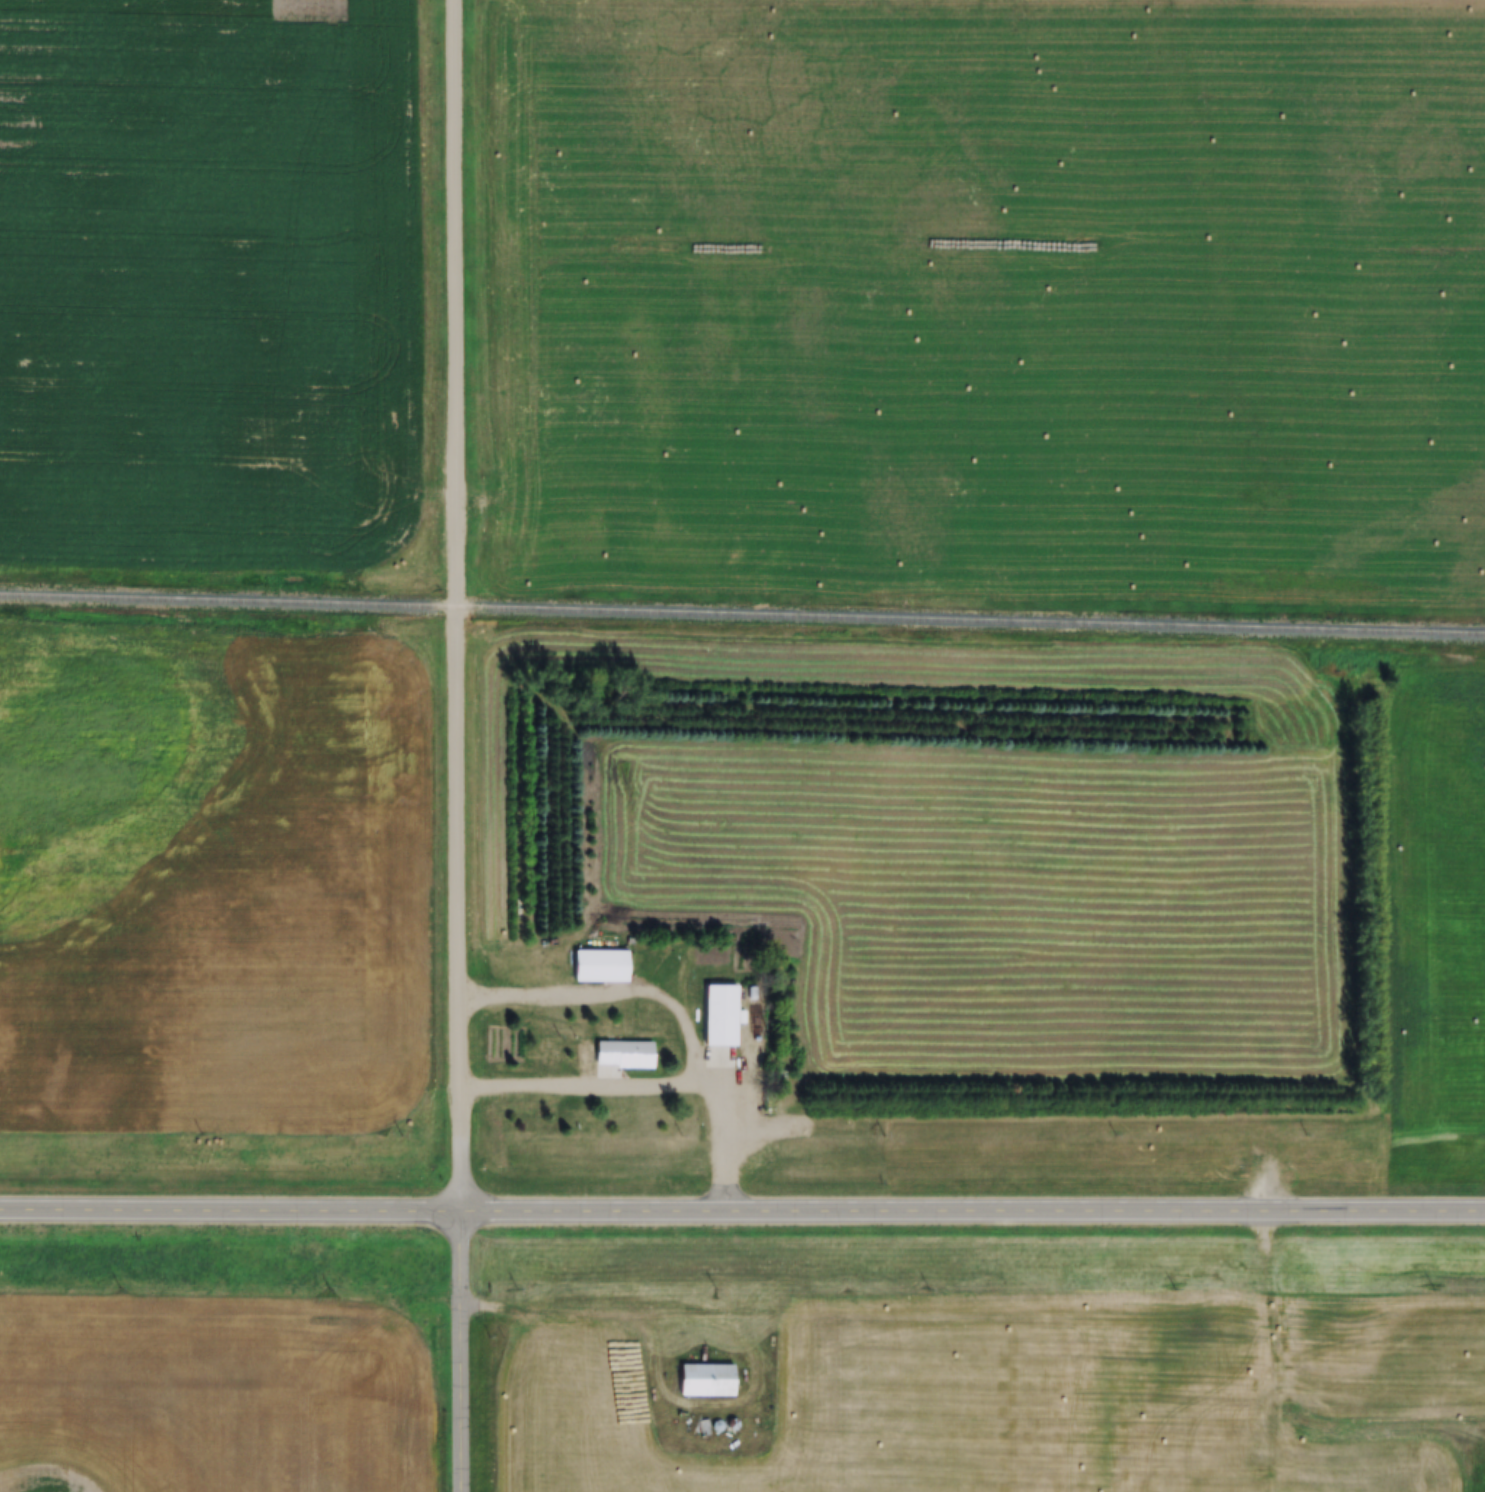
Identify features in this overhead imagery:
crop: (553, 0)
crop: (993, 298)
road: (454, 608)
railway: (742, 616)
building: (600, 967)
road: (680, 1008)
building: (719, 1015)
building: (623, 1056)
road: (592, 1086)
road: (742, 1217)
road: (646, 1315)
road: (467, 1354)
building: (706, 1382)
road: (1291, 1413)
building: (731, 1426)
silo: (731, 1426)
building: (702, 1427)
building: (716, 1427)
silo: (716, 1427)

